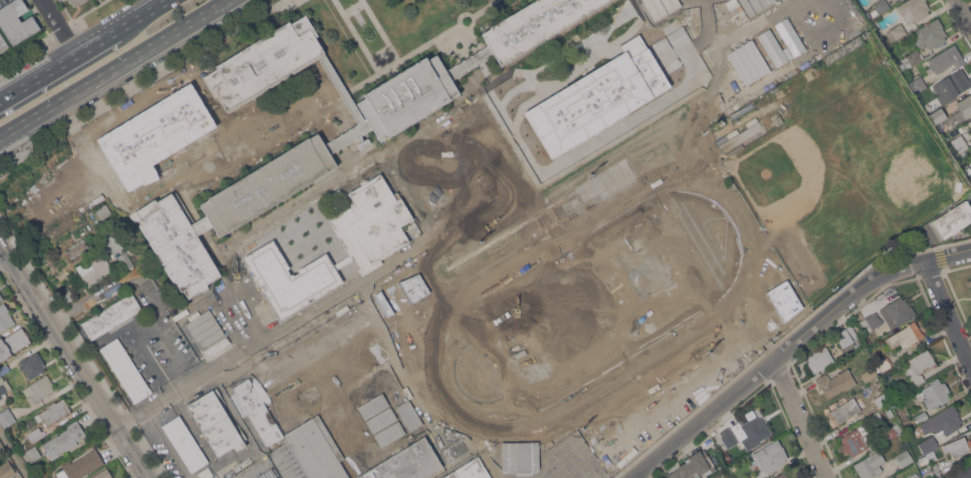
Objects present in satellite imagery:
building: (62, 0)
building: (77, 2)
building: (763, 3)
building: (670, 5)
building: (748, 7)
building: (879, 7)
building: (654, 9)
building: (913, 9)
road: (964, 10)
road: (143, 15)
building: (16, 21)
building: (534, 25)
road: (60, 26)
building: (896, 32)
building: (930, 34)
building: (788, 36)
building: (3, 43)
building: (771, 47)
building: (911, 58)
building: (946, 58)
building: (750, 60)
building: (469, 62)
building: (264, 63)
road: (59, 64)
road: (113, 69)
building: (918, 84)
building: (952, 85)
building: (341, 88)
building: (407, 96)
building: (598, 97)
building: (963, 107)
building: (637, 109)
building: (937, 114)
building: (969, 121)
building: (154, 135)
building: (363, 142)
building: (959, 143)
building: (446, 152)
building: (577, 161)
park: (839, 163)
building: (968, 169)
building: (416, 170)
building: (970, 177)
building: (268, 184)
building: (588, 188)
building: (523, 194)
building: (103, 211)
building: (544, 215)
building: (953, 219)
building: (474, 224)
building: (202, 225)
building: (176, 243)
building: (369, 245)
road: (6, 259)
building: (125, 260)
building: (95, 269)
building: (970, 281)
building: (413, 287)
building: (970, 288)
building: (66, 294)
track: (469, 294)
building: (1, 297)
building: (421, 297)
road: (87, 299)
building: (784, 300)
building: (383, 304)
park: (596, 306)
building: (899, 309)
road: (949, 311)
building: (111, 316)
building: (5, 317)
building: (870, 322)
building: (204, 327)
building: (905, 335)
building: (843, 337)
building: (868, 338)
building: (13, 343)
road: (791, 345)
building: (217, 346)
building: (752, 353)
road: (75, 357)
building: (820, 359)
building: (33, 364)
building: (883, 364)
building: (918, 366)
building: (4, 369)
building: (126, 369)
building: (326, 372)
building: (869, 374)
building: (835, 384)
building: (39, 389)
building: (3, 390)
building: (652, 391)
building: (935, 393)
building: (881, 400)
building: (372, 406)
building: (844, 411)
building: (54, 412)
building: (256, 412)
building: (889, 412)
building: (408, 415)
building: (921, 416)
building: (7, 418)
road: (798, 419)
building: (947, 419)
building: (380, 420)
building: (215, 423)
building: (754, 432)
building: (891, 432)
building: (388, 434)
building: (35, 435)
building: (729, 439)
building: (64, 440)
building: (853, 442)
building: (185, 444)
building: (928, 446)
building: (958, 446)
building: (1, 447)
building: (316, 450)
building: (33, 453)
road: (14, 455)
building: (519, 456)
building: (771, 456)
building: (904, 457)
road: (269, 463)
building: (405, 463)
building: (81, 465)
building: (870, 465)
building: (694, 467)
building: (928, 467)
building: (6, 470)
building: (470, 470)
building: (963, 472)
building: (103, 474)
building: (267, 474)
building: (782, 475)
building: (914, 475)
building: (743, 477)
building: (892, 477)

